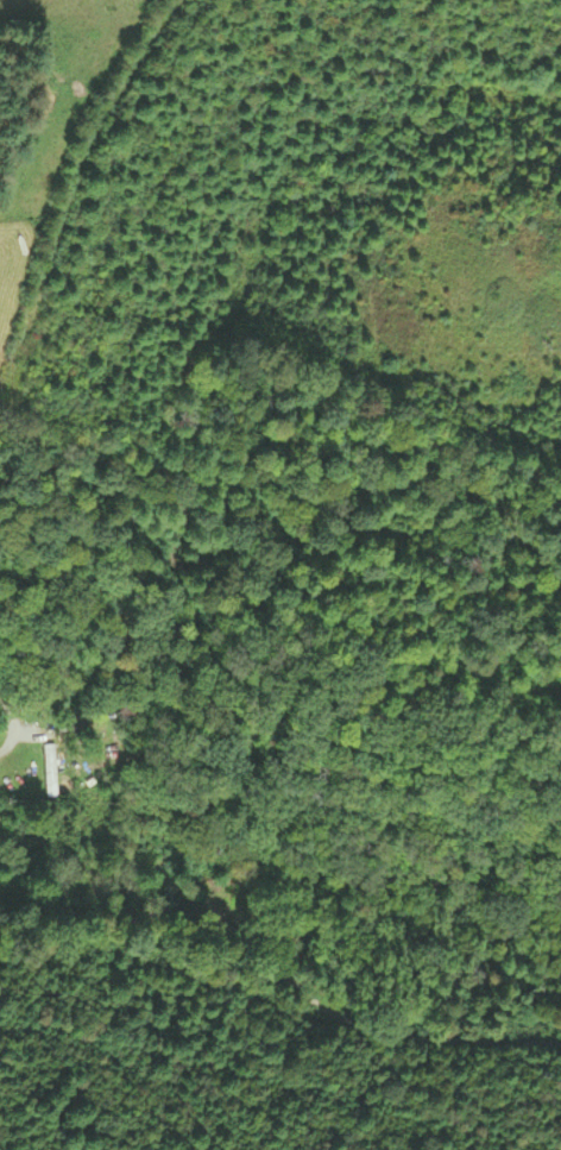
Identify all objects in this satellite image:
road: (8, 730)
building: (50, 771)
road: (278, 978)

